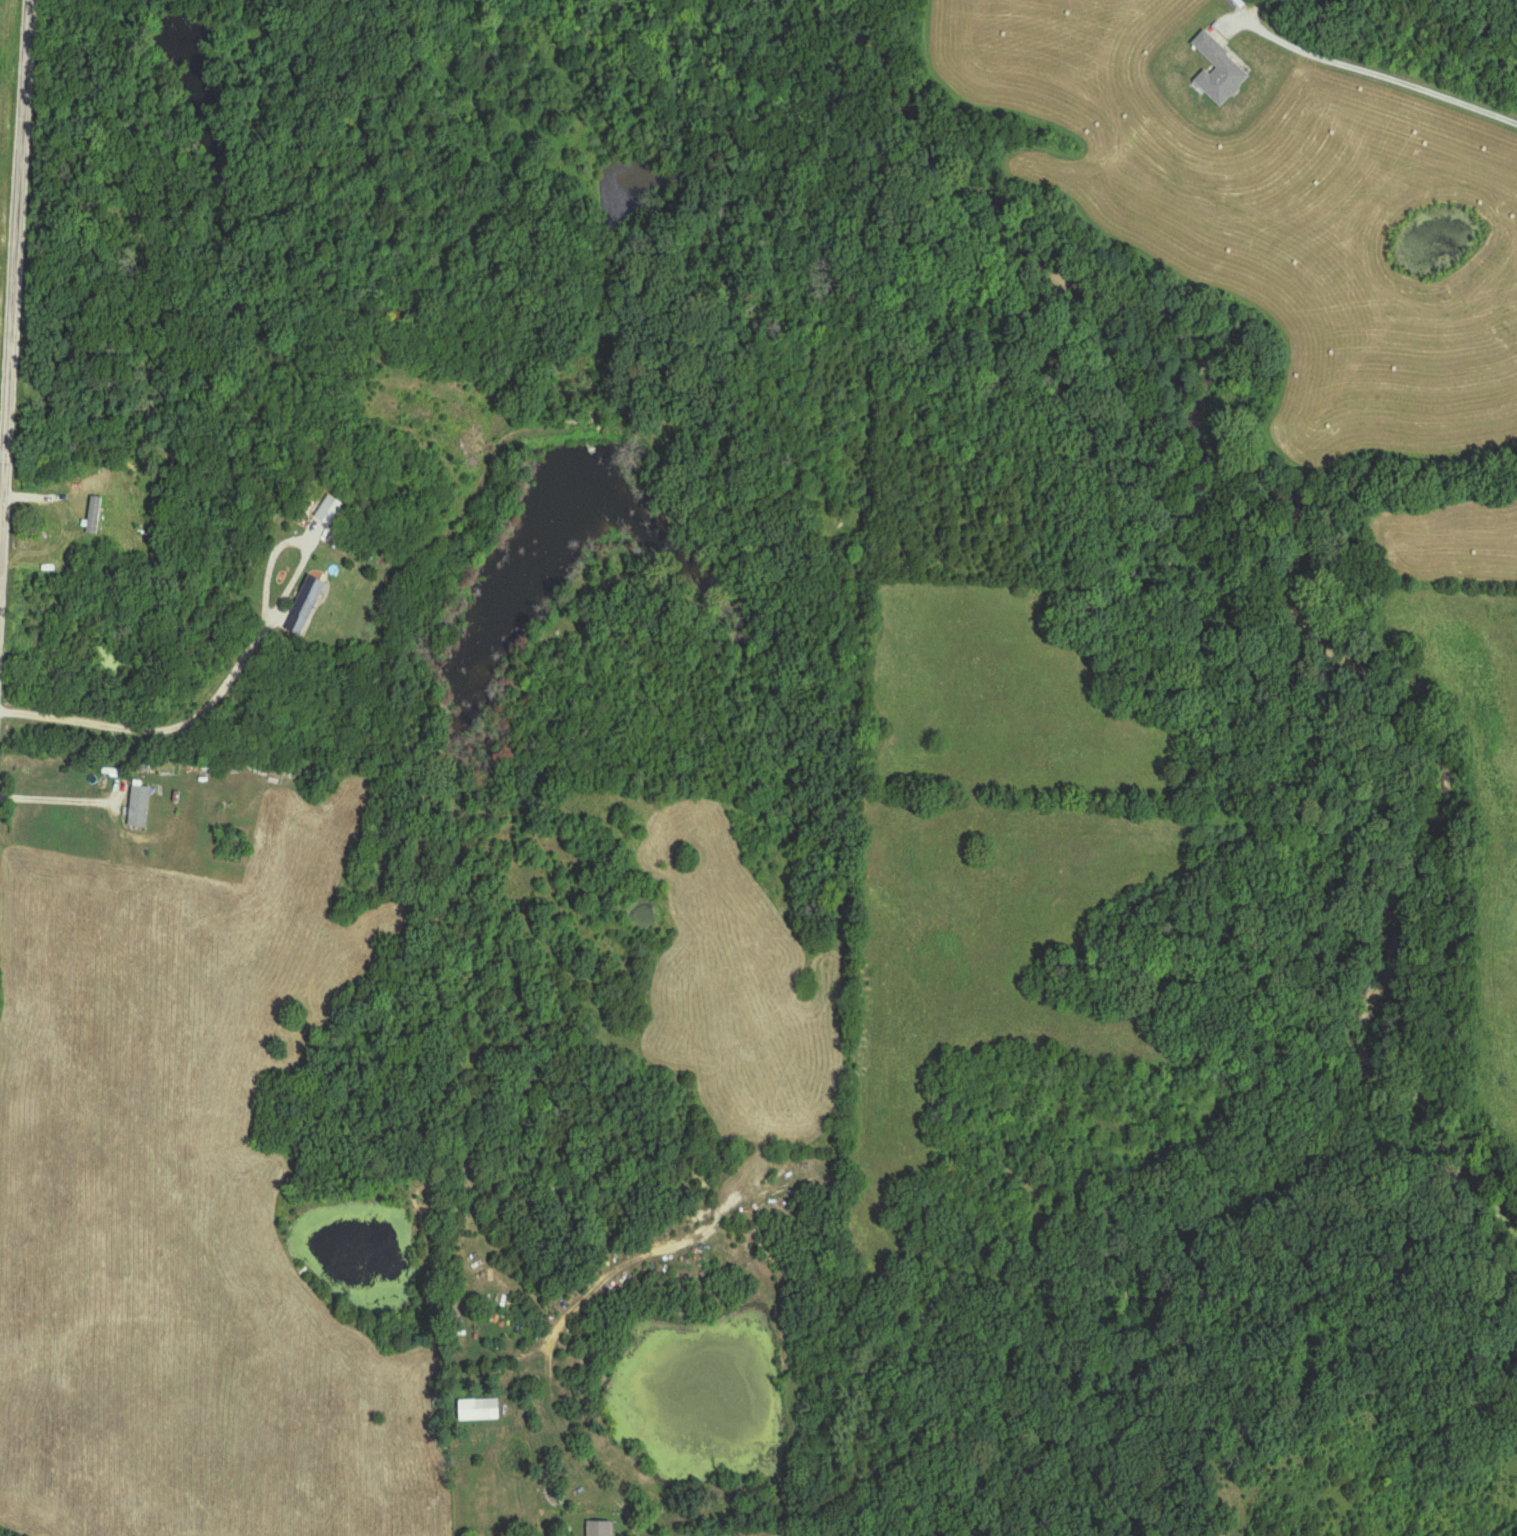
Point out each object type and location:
building: (1218, 71)
road: (1393, 77)
road: (11, 248)
building: (324, 507)
road: (300, 541)
building: (307, 598)
road: (159, 731)
road: (61, 802)
building: (139, 807)
road: (551, 1331)
building: (478, 1410)
building: (598, 1528)

